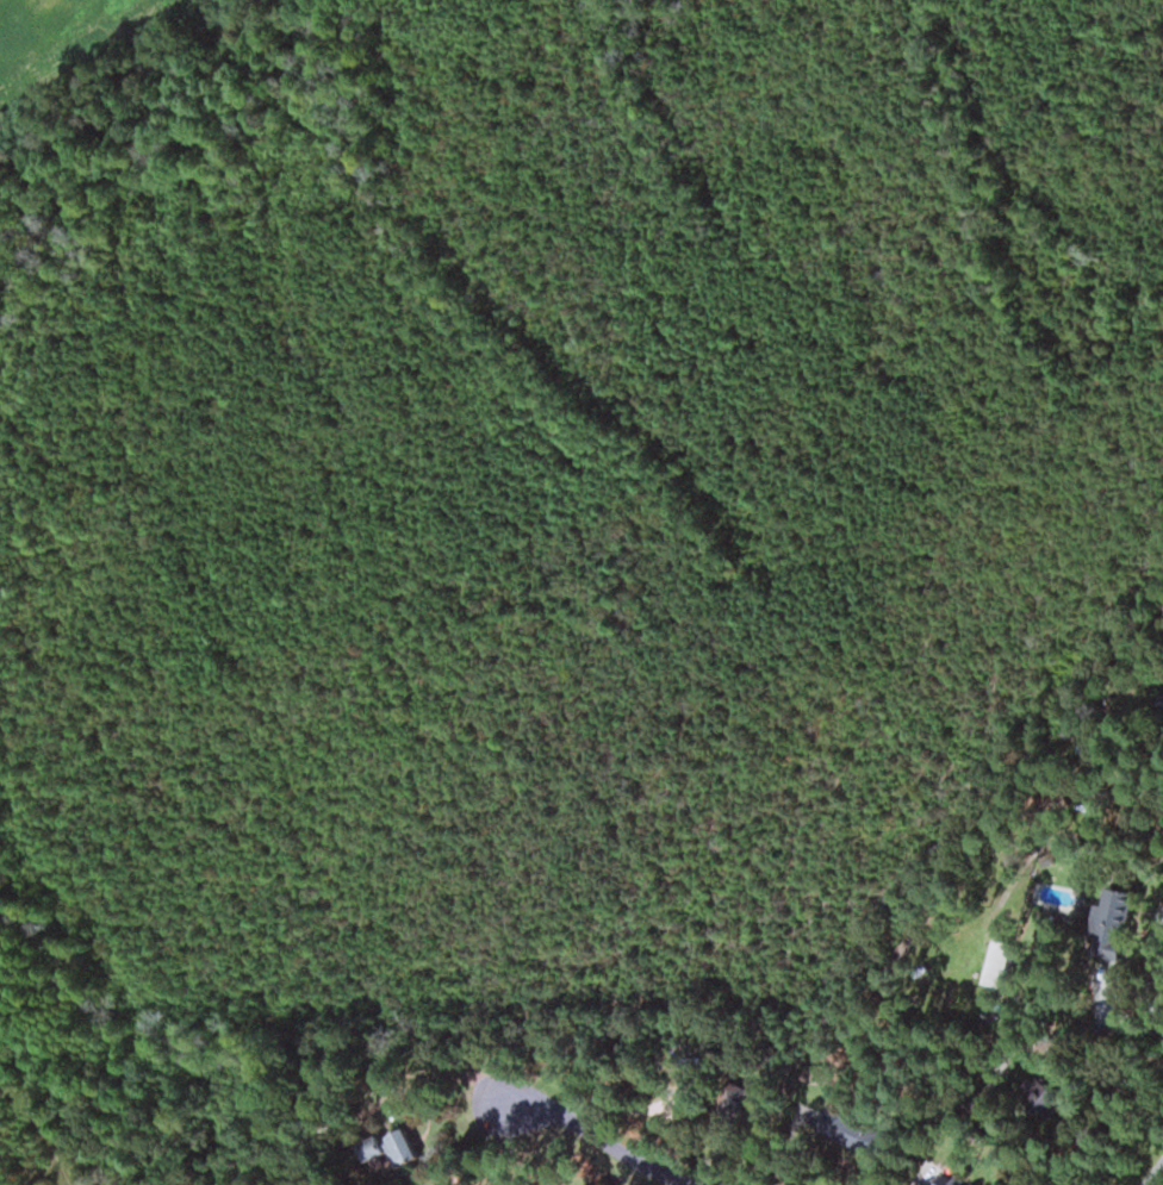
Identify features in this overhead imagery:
building: (1128, 908)
building: (1005, 963)
building: (848, 1128)
road: (586, 1131)
building: (399, 1147)
road: (1157, 1177)
building: (954, 1179)

